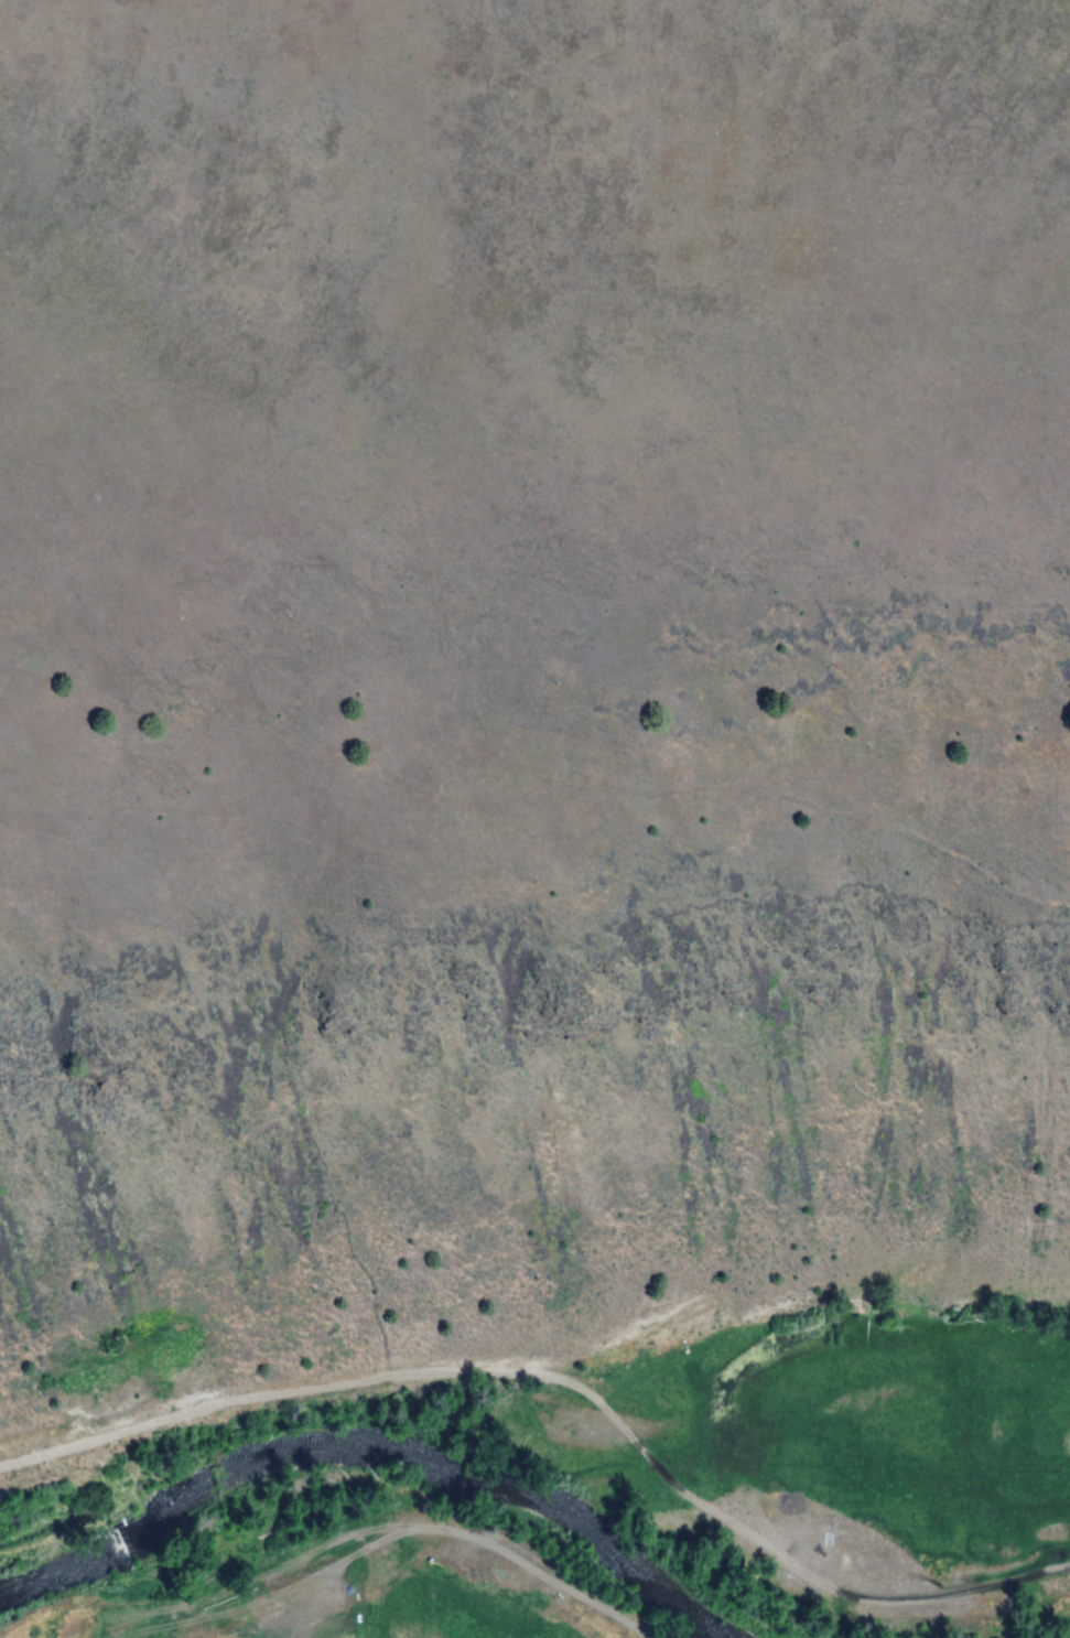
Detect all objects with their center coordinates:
river: (409, 1444)

